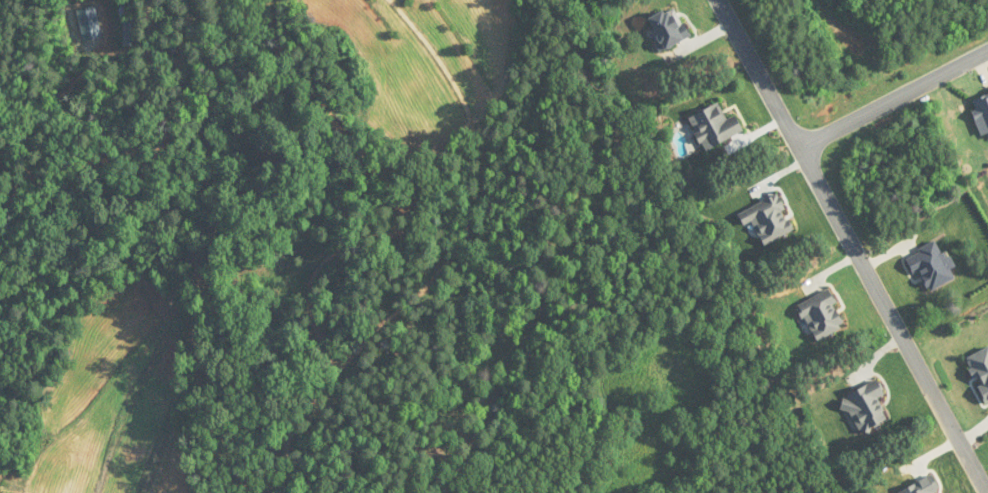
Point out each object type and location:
building: (668, 29)
road: (894, 99)
building: (981, 114)
building: (714, 128)
road: (855, 245)

